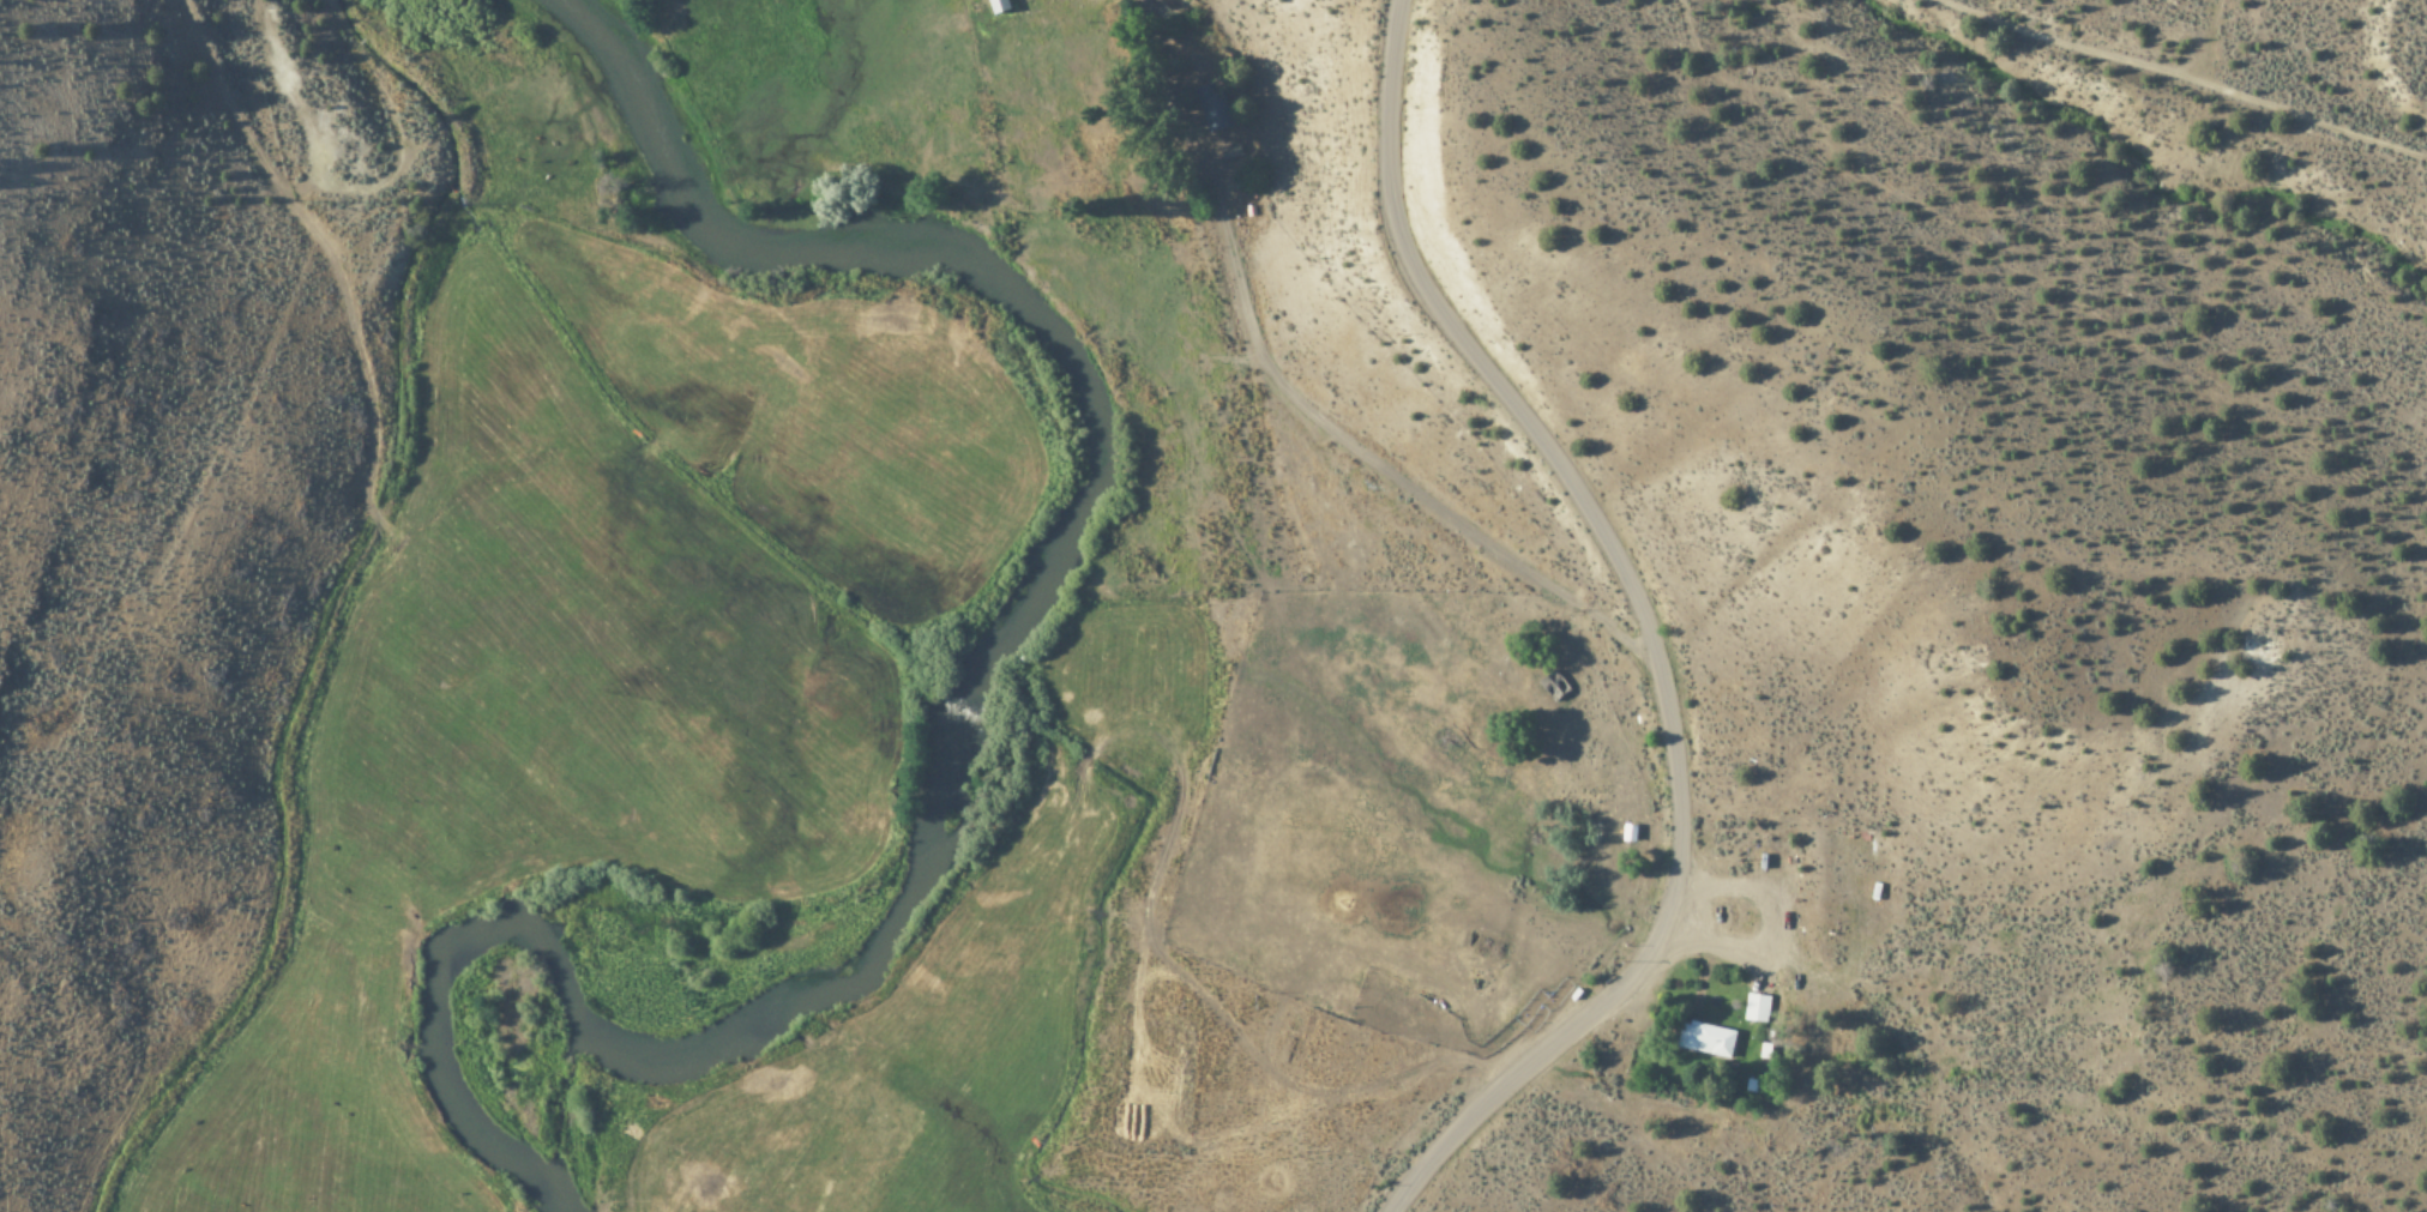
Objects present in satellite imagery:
building: (998, 6)
road: (2164, 96)
building: (1213, 109)
road: (1640, 622)
river: (983, 680)
building: (1554, 686)
building: (1630, 830)
building: (1757, 1008)
building: (1706, 1041)

